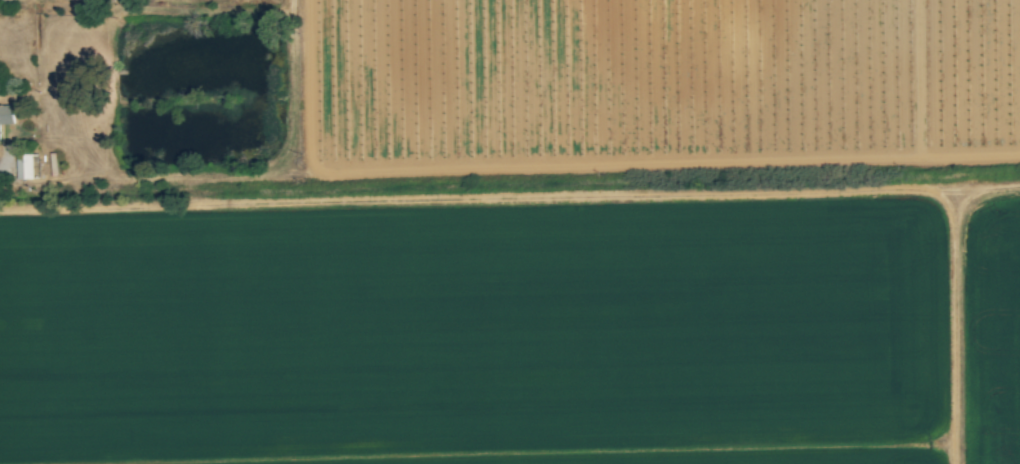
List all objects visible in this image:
building: (5, 115)
building: (24, 168)

